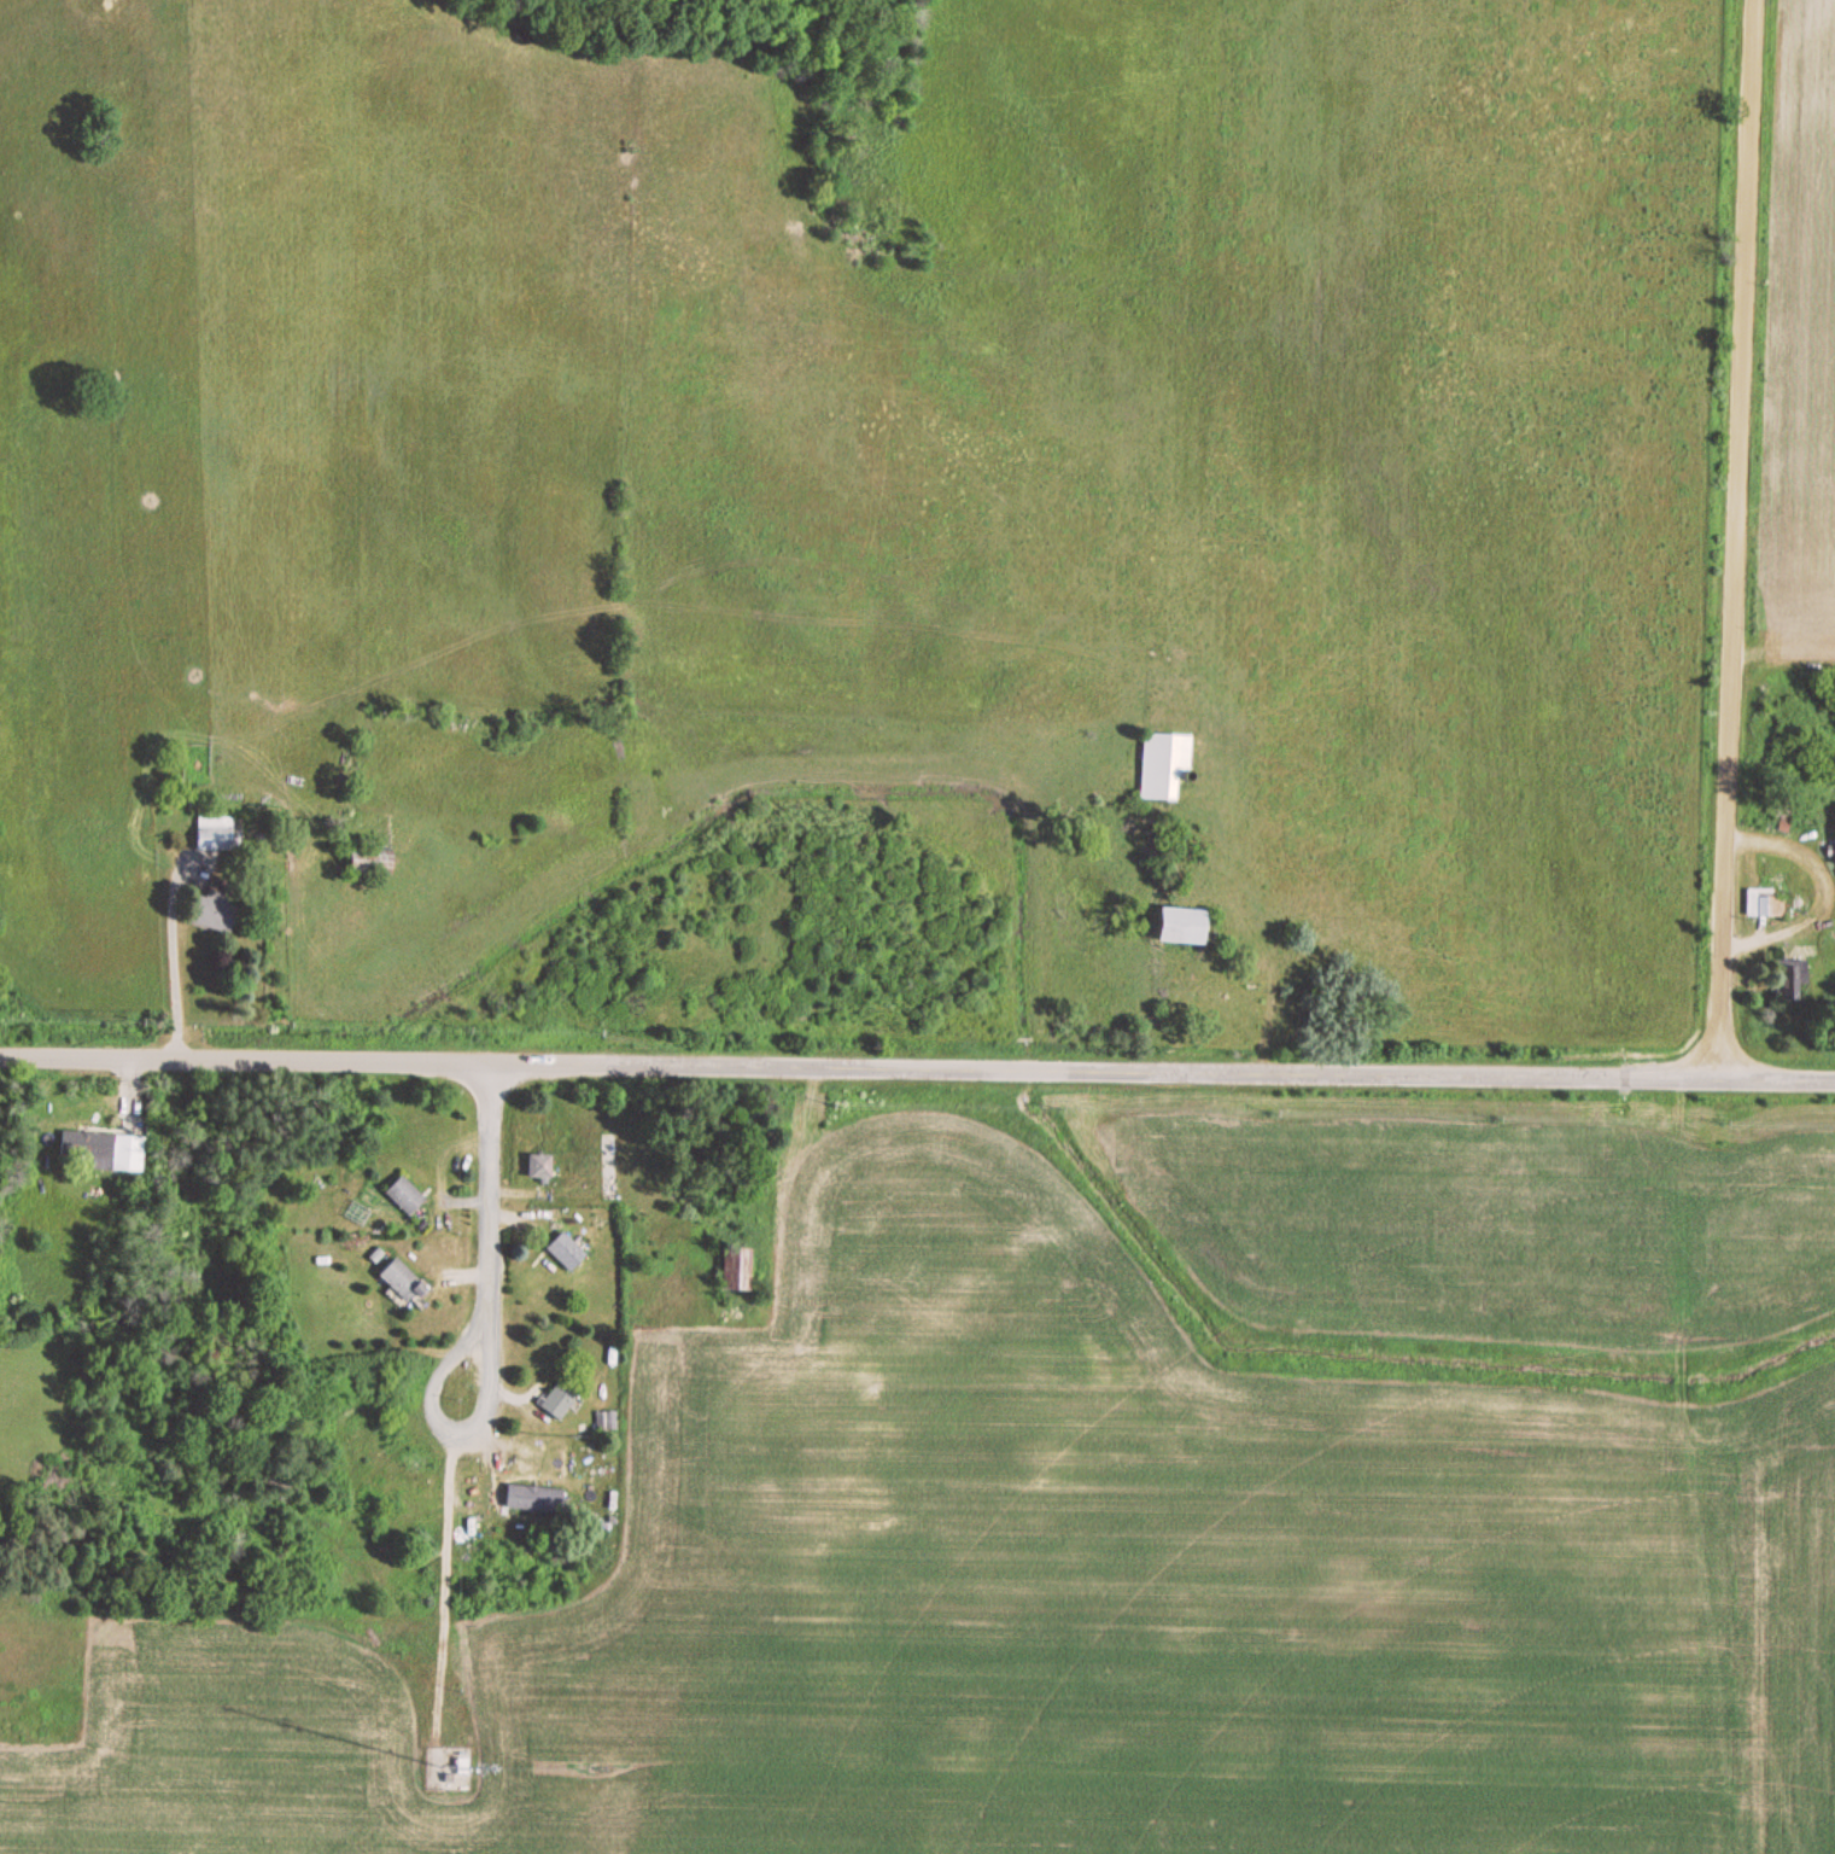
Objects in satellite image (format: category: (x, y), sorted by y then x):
road: (1732, 536)
building: (1158, 764)
building: (205, 835)
building: (1833, 838)
building: (363, 862)
building: (1759, 904)
building: (206, 916)
building: (1169, 925)
building: (1787, 978)
road: (320, 1057)
road: (1237, 1066)
building: (104, 1152)
building: (533, 1167)
building: (398, 1196)
building: (561, 1253)
road: (487, 1254)
building: (729, 1269)
building: (396, 1281)
building: (553, 1400)
building: (604, 1423)
building: (544, 1473)
crop: (1040, 1596)

